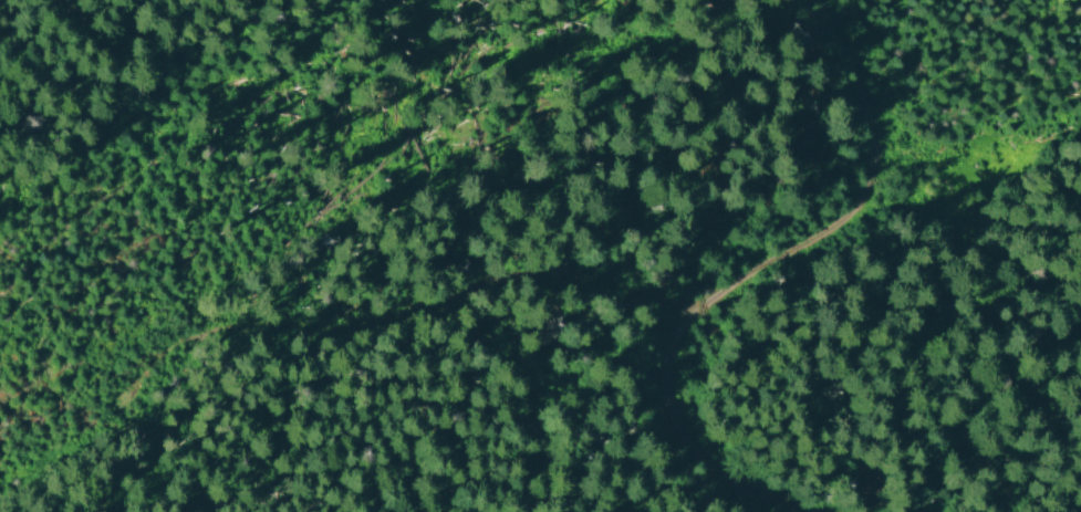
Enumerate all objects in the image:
road: (749, 270)

